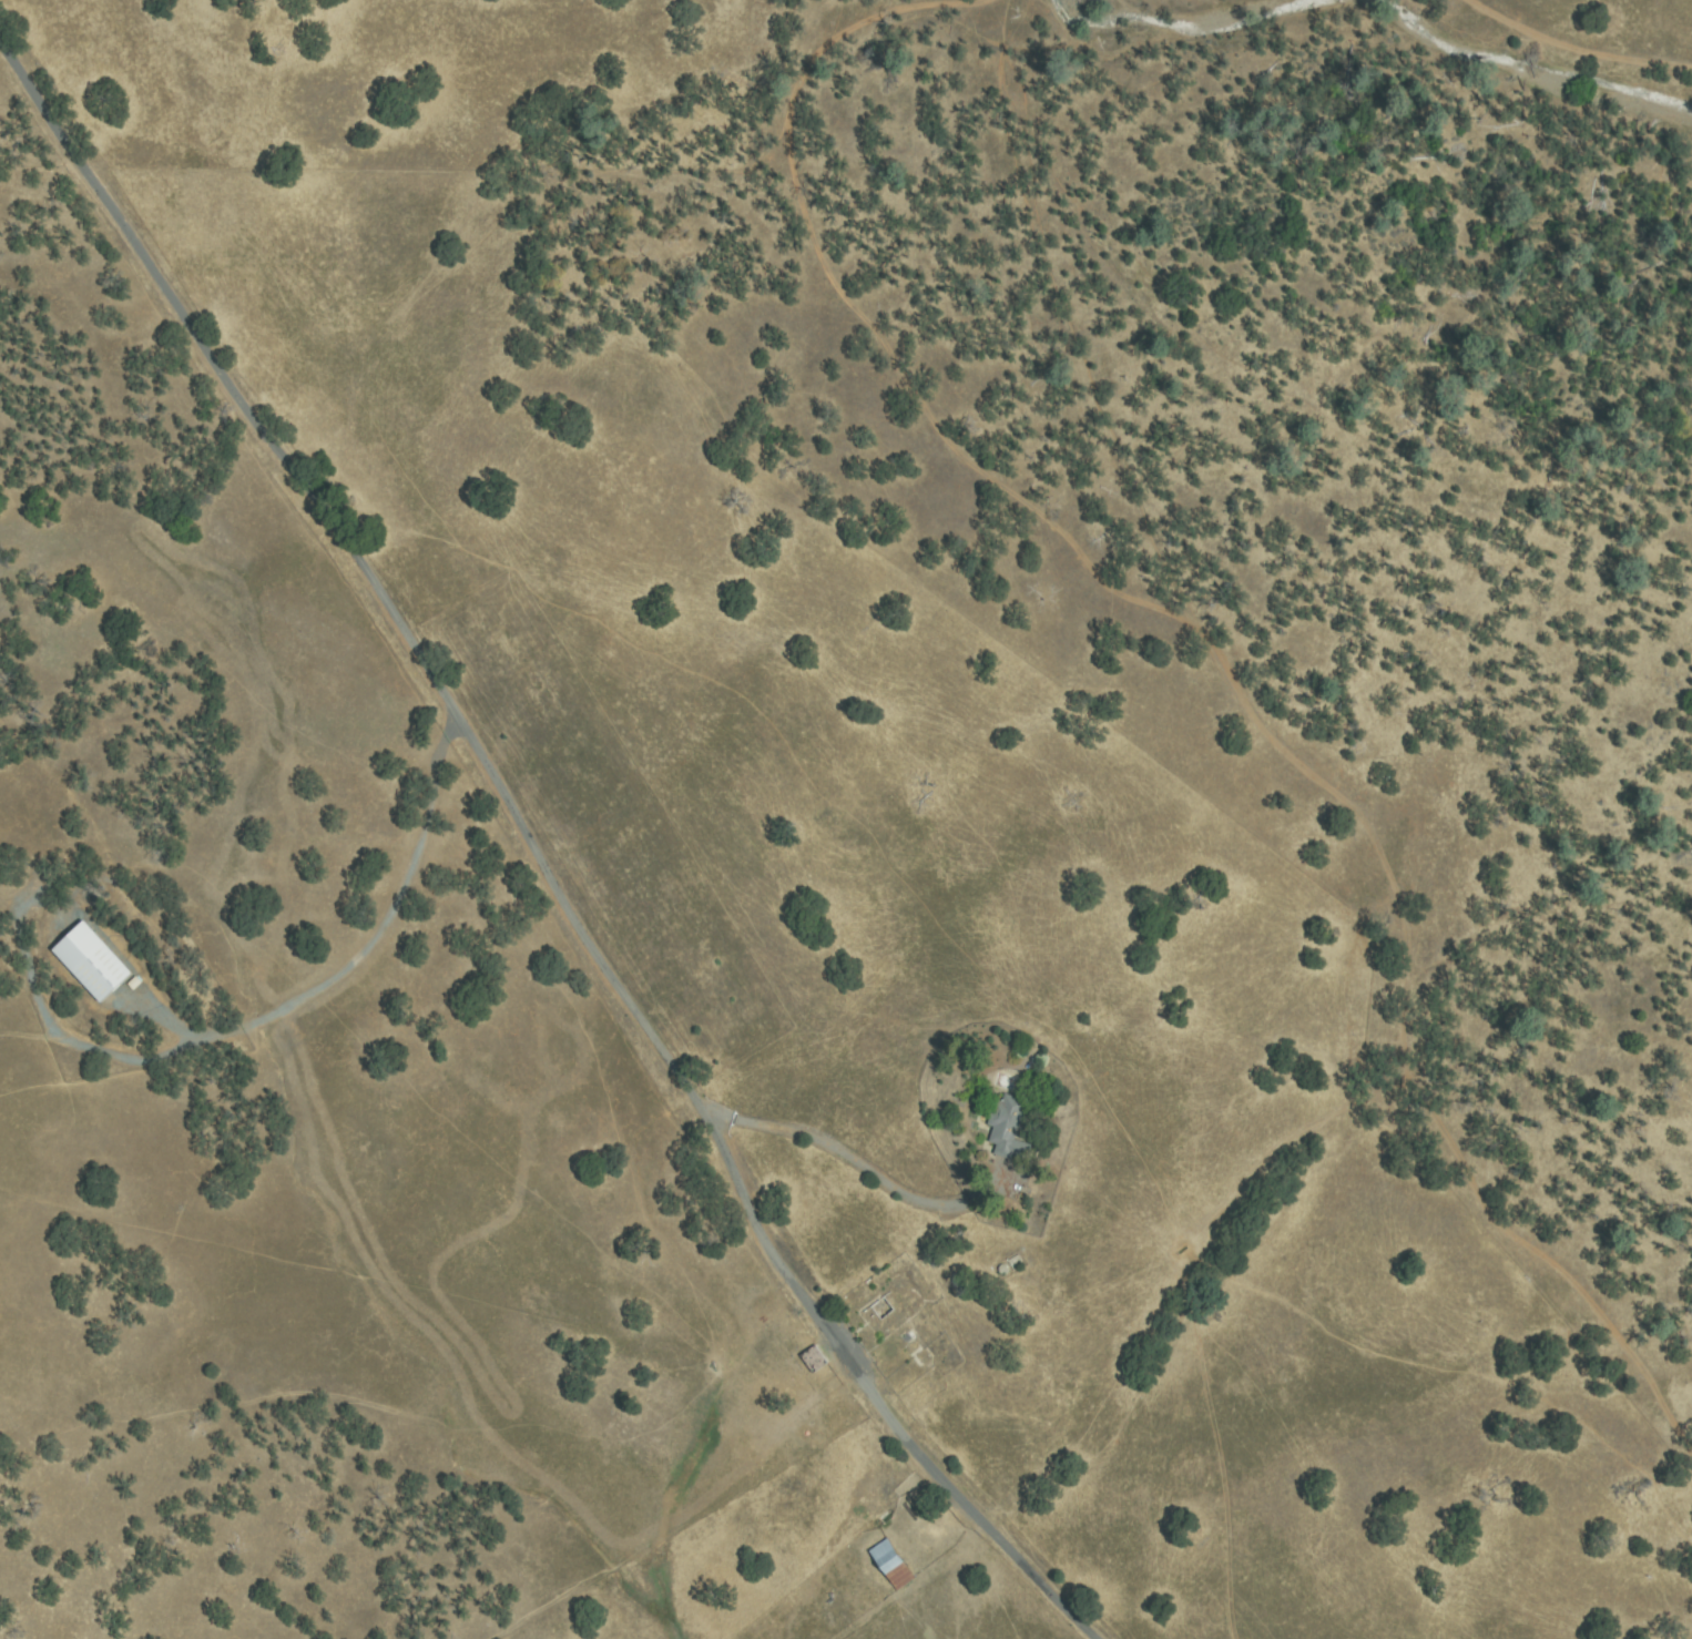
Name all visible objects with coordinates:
road: (1576, 57)
road: (1225, 649)
road: (495, 785)
building: (93, 961)
building: (135, 983)
building: (1008, 1129)
road: (848, 1161)
building: (1017, 1263)
storage tank: (1003, 1269)
building: (890, 1305)
building: (815, 1360)
building: (891, 1564)
road: (1044, 1581)

